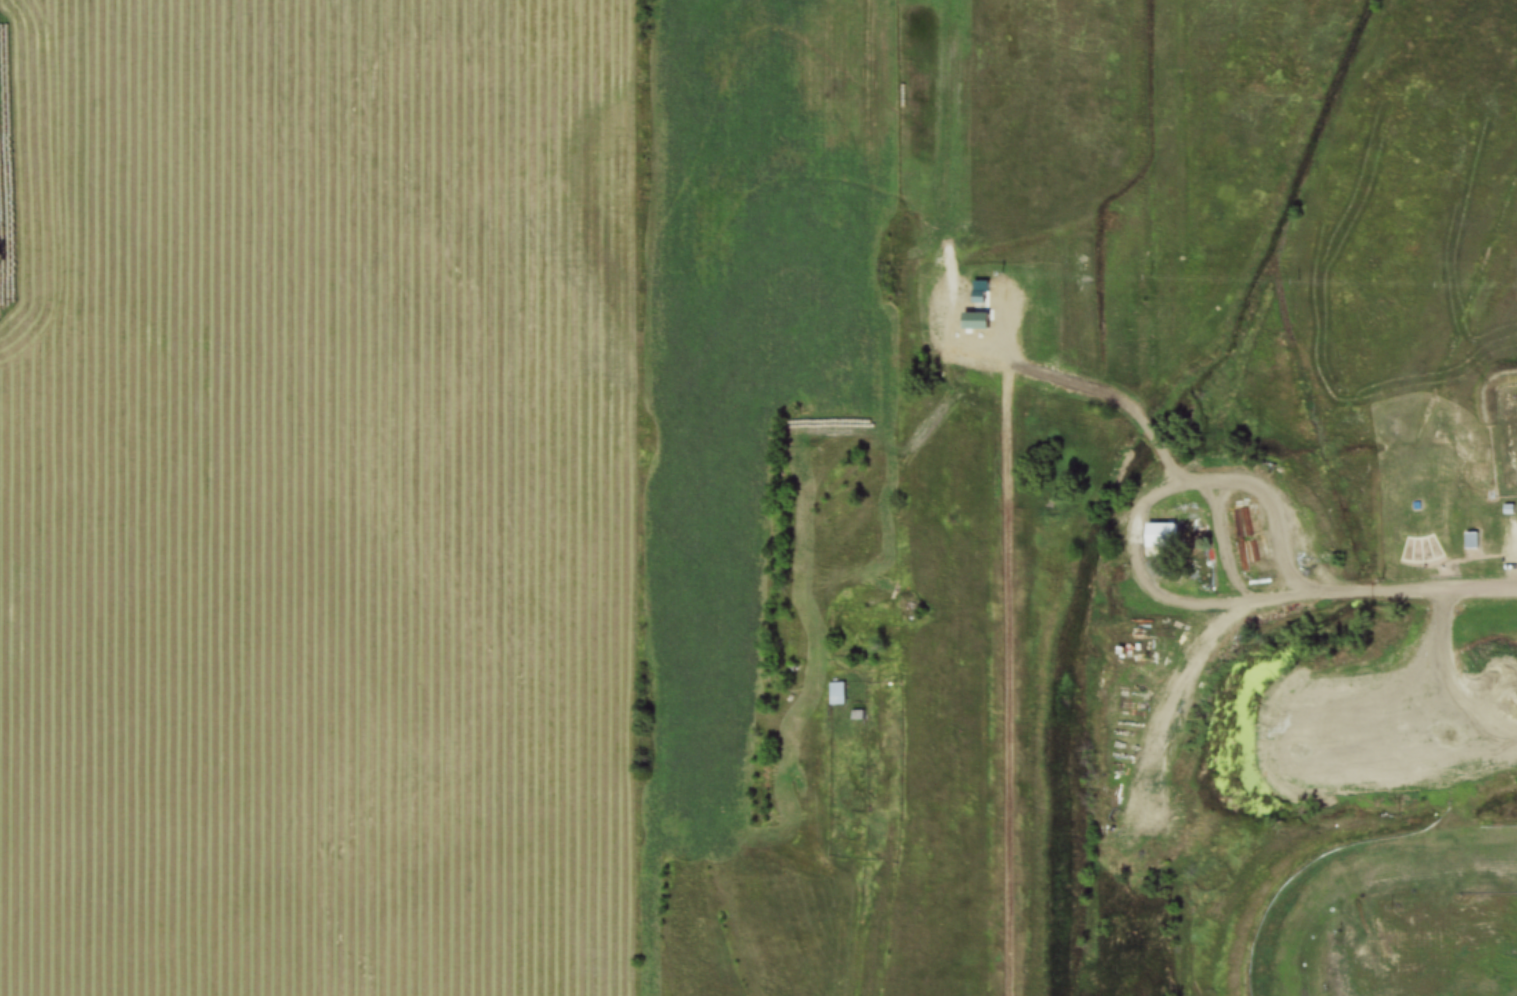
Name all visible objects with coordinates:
building: (1159, 542)
building: (1471, 542)
building: (837, 695)

